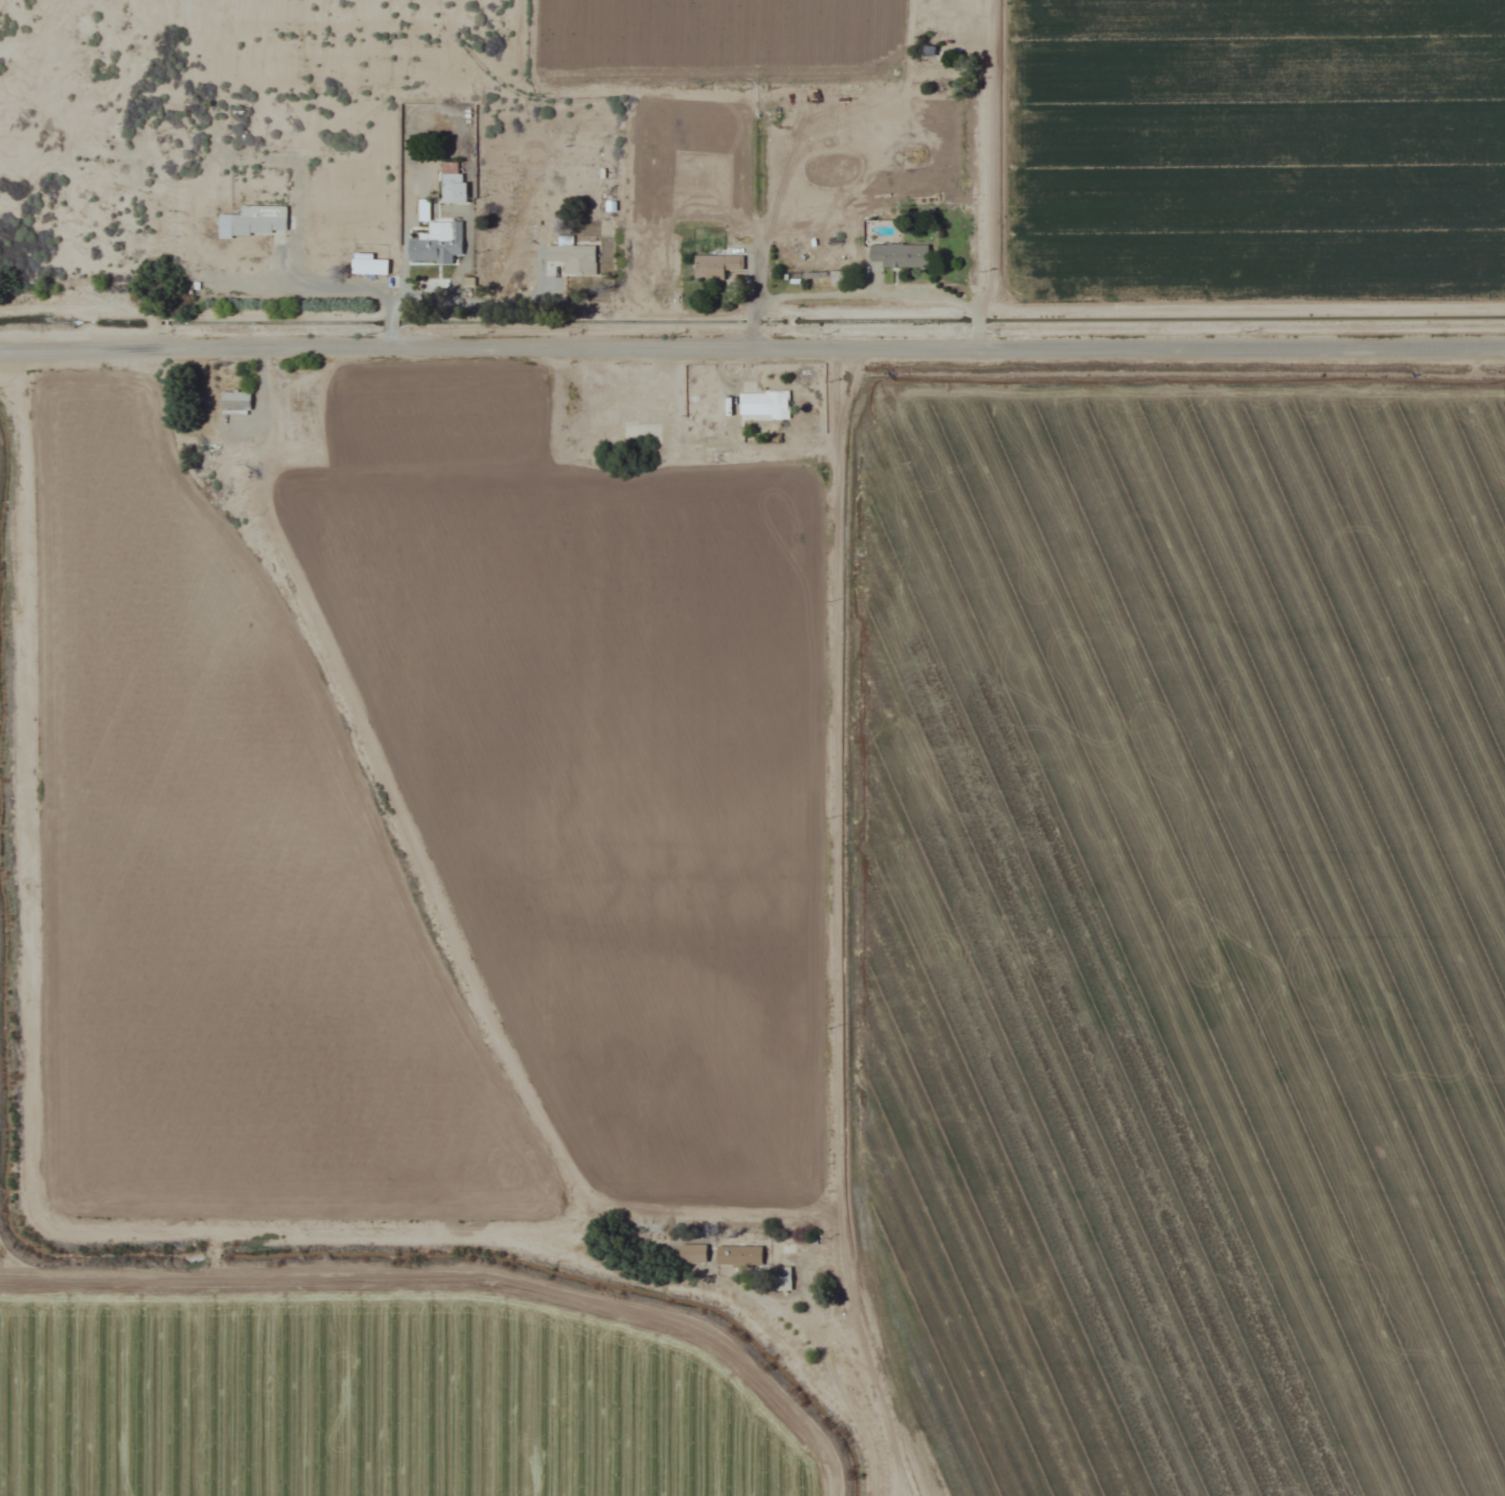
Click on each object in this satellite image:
crop: (716, 35)
crop: (1249, 151)
building: (452, 183)
building: (253, 220)
building: (437, 243)
building: (901, 255)
building: (573, 258)
building: (368, 264)
building: (716, 265)
building: (816, 278)
road: (752, 351)
building: (235, 402)
building: (763, 405)
crop: (439, 413)
crop: (608, 782)
crop: (221, 888)
crop: (1178, 927)
building: (693, 1252)
building: (738, 1255)
building: (779, 1278)
crop: (371, 1396)

